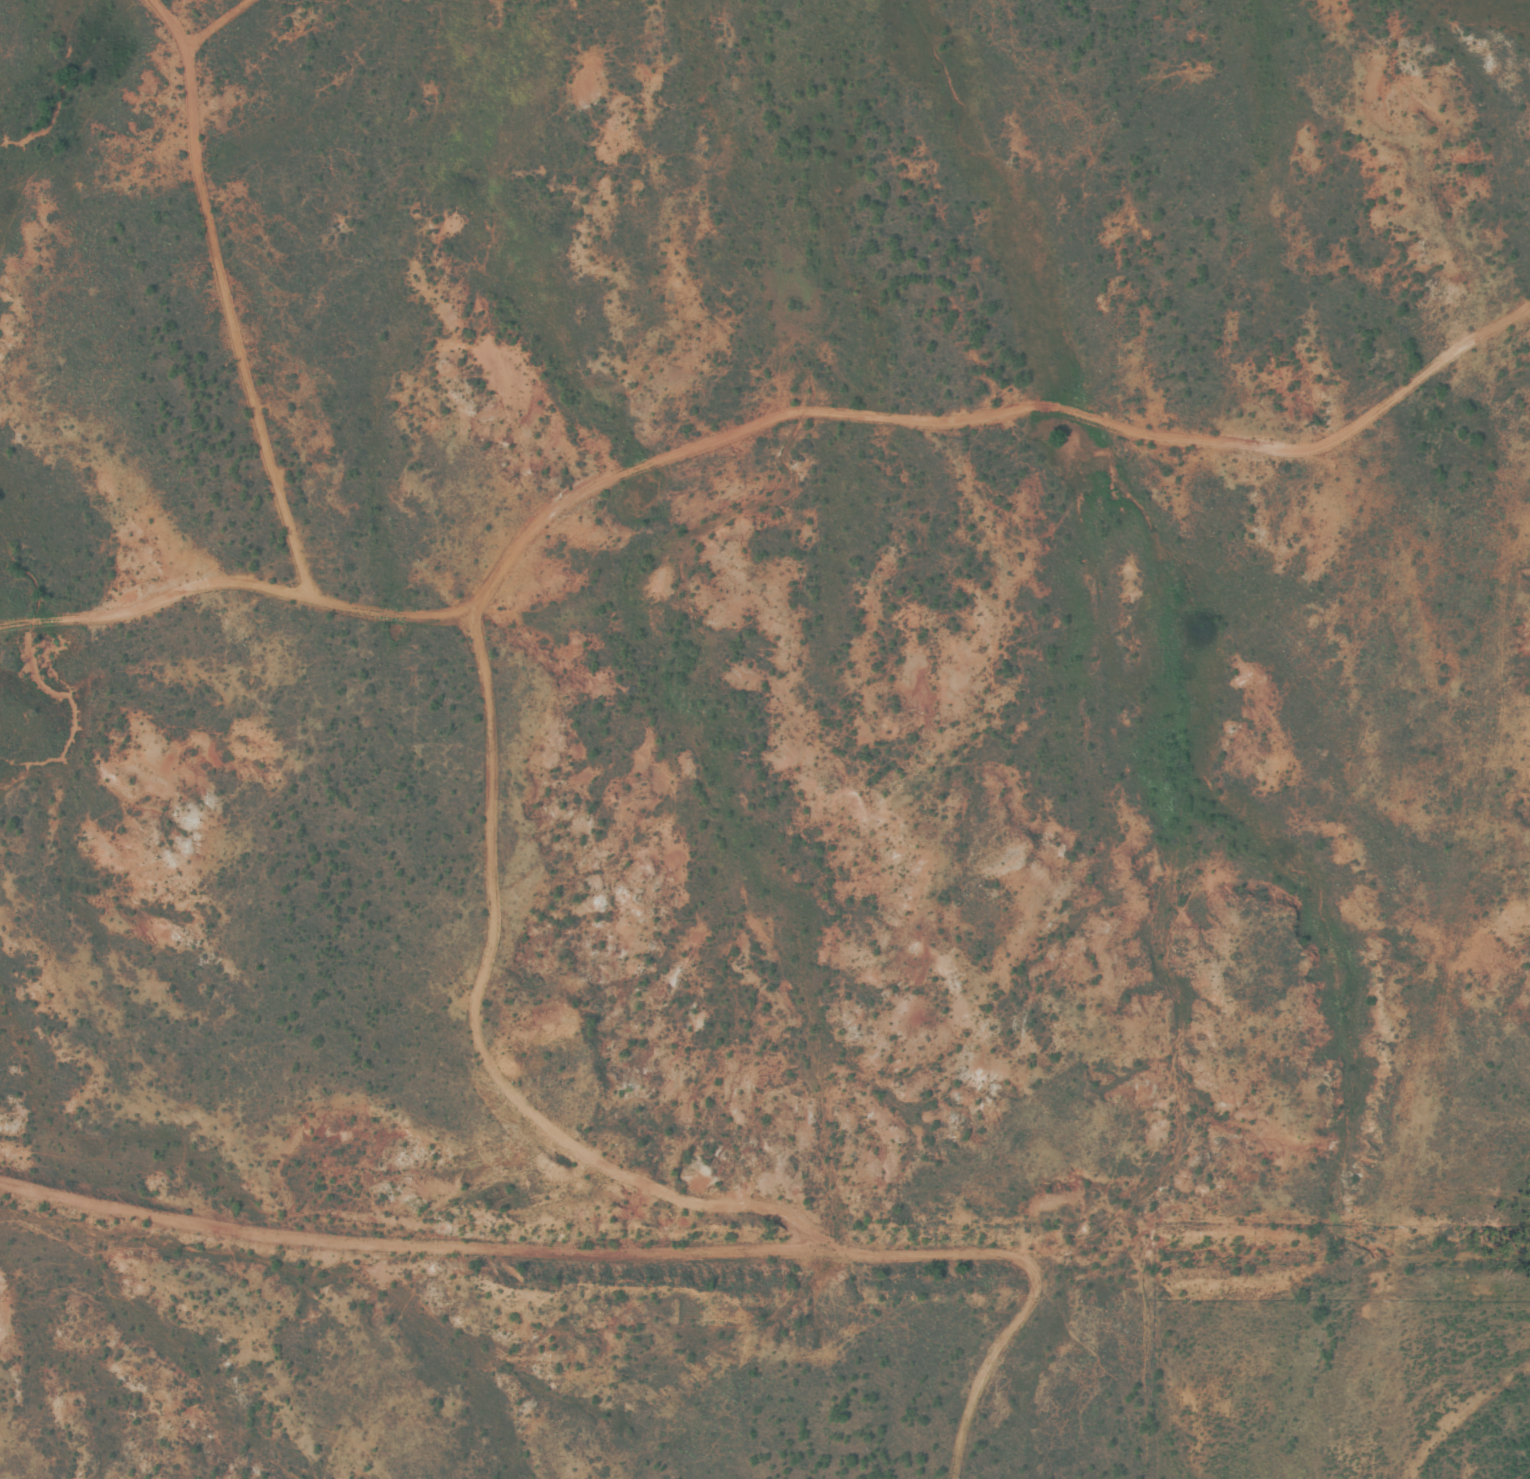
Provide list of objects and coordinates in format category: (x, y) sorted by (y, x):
road: (760, 443)
road: (1481, 841)
railway: (760, 1246)

